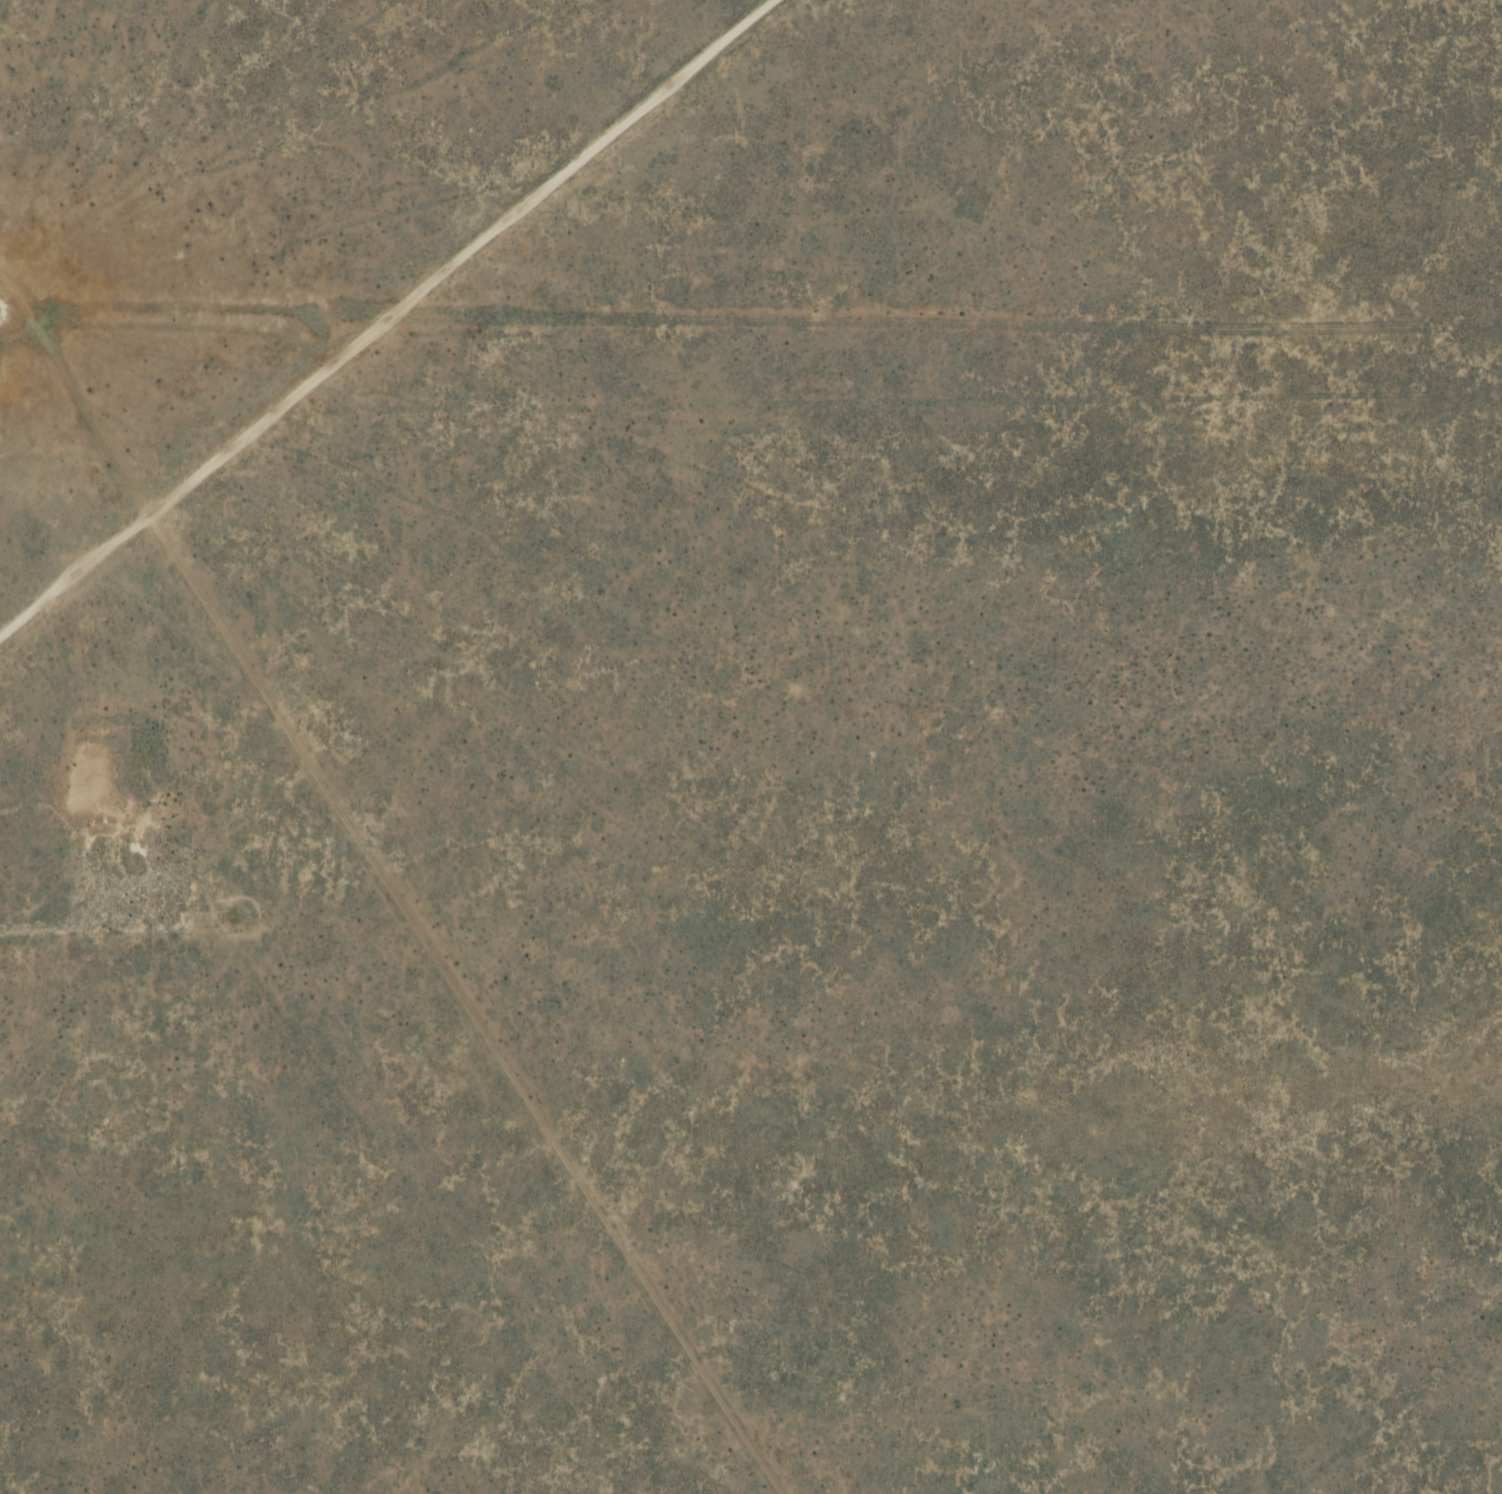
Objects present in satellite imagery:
road: (452, 267)
road: (66, 443)
road: (66, 594)
road: (441, 1024)

